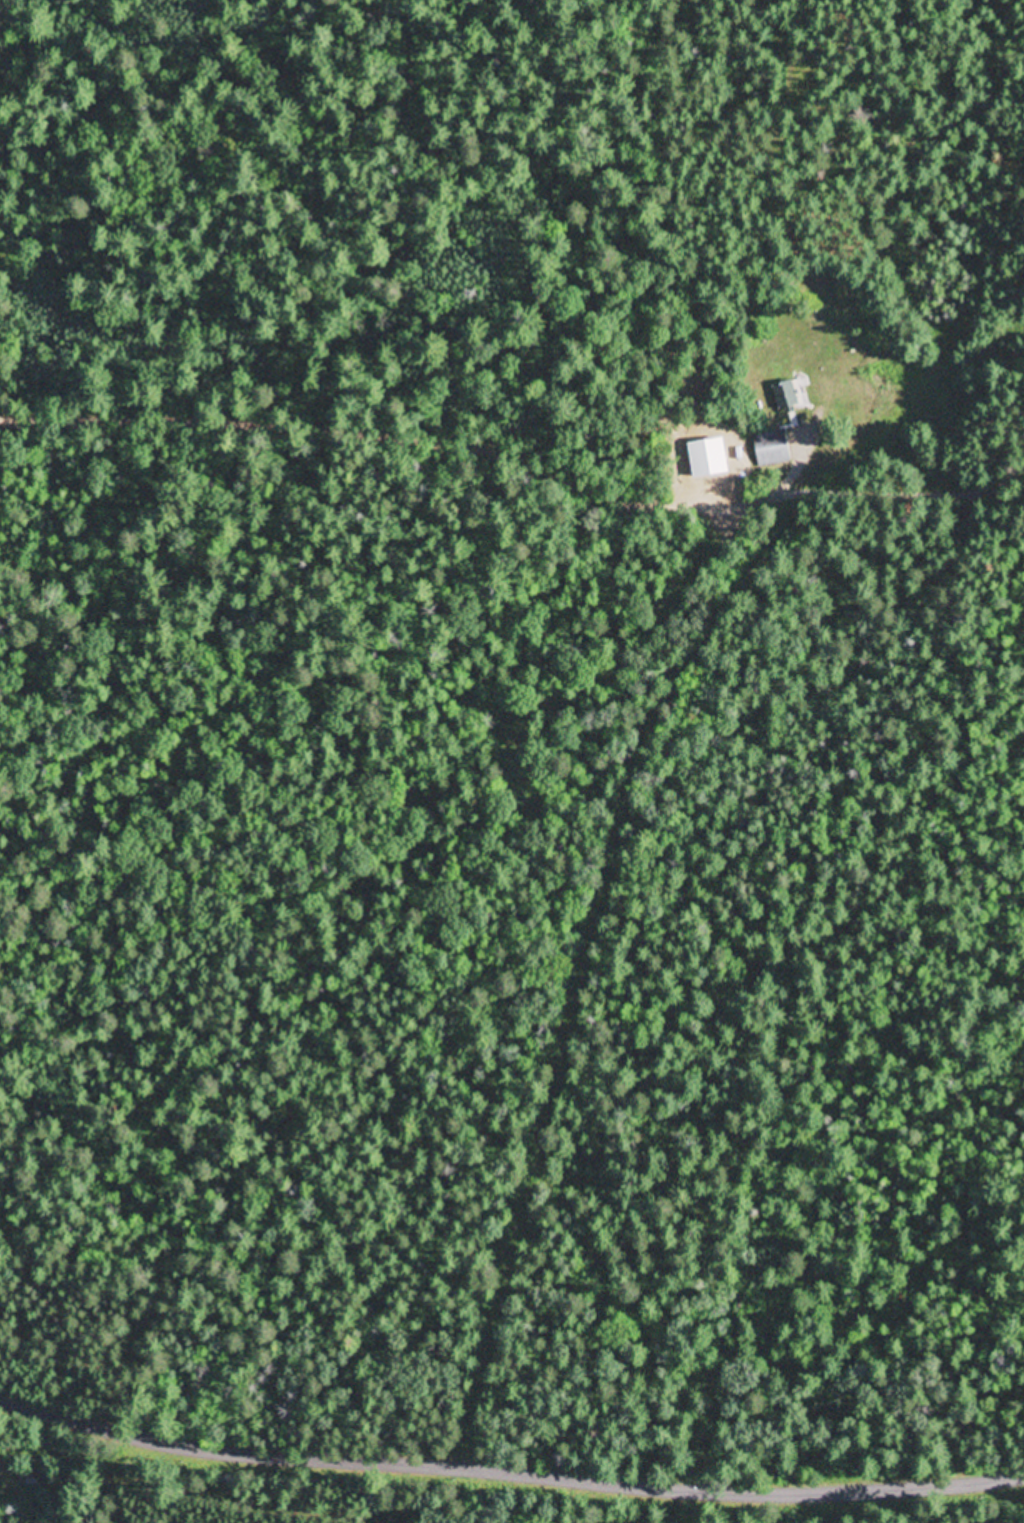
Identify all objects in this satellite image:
building: (787, 397)
road: (408, 429)
building: (775, 449)
road: (509, 1469)
building: (33, 1478)

